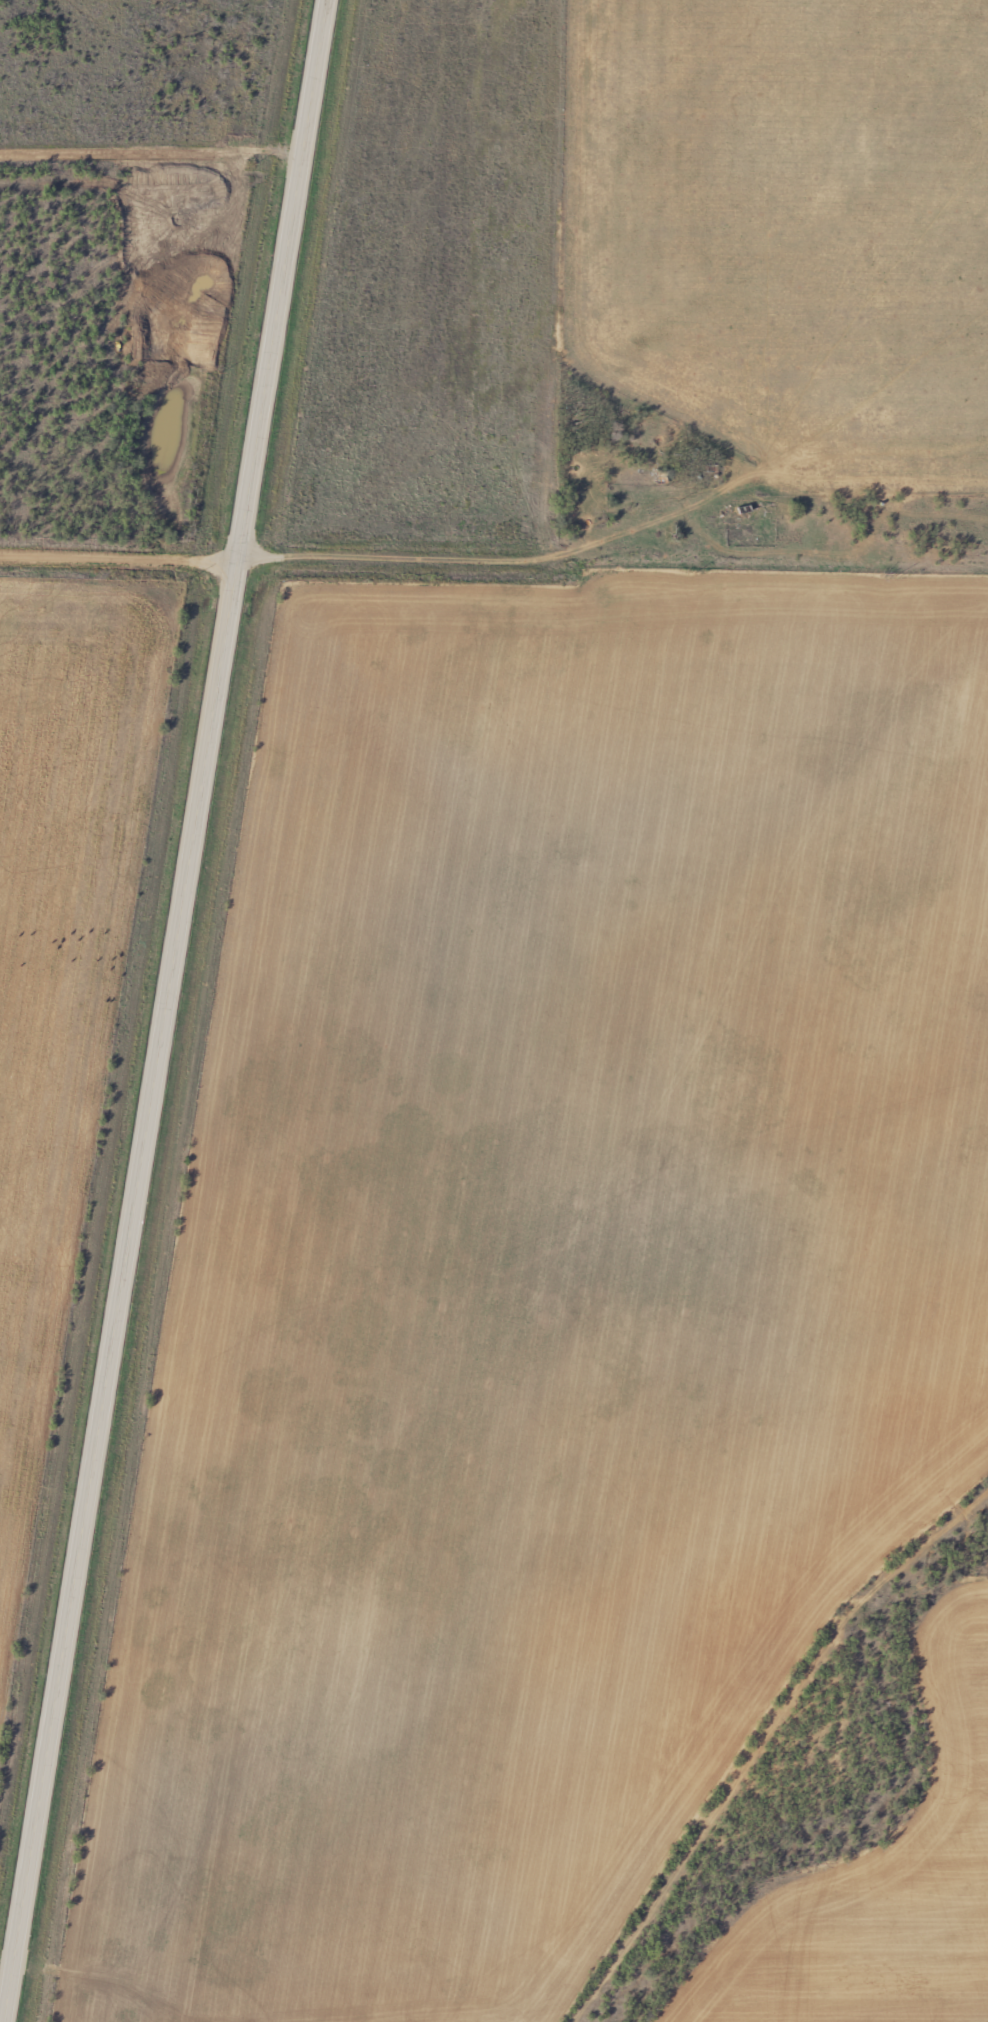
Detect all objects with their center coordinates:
road: (120, 562)
road: (615, 587)
road: (169, 1011)

